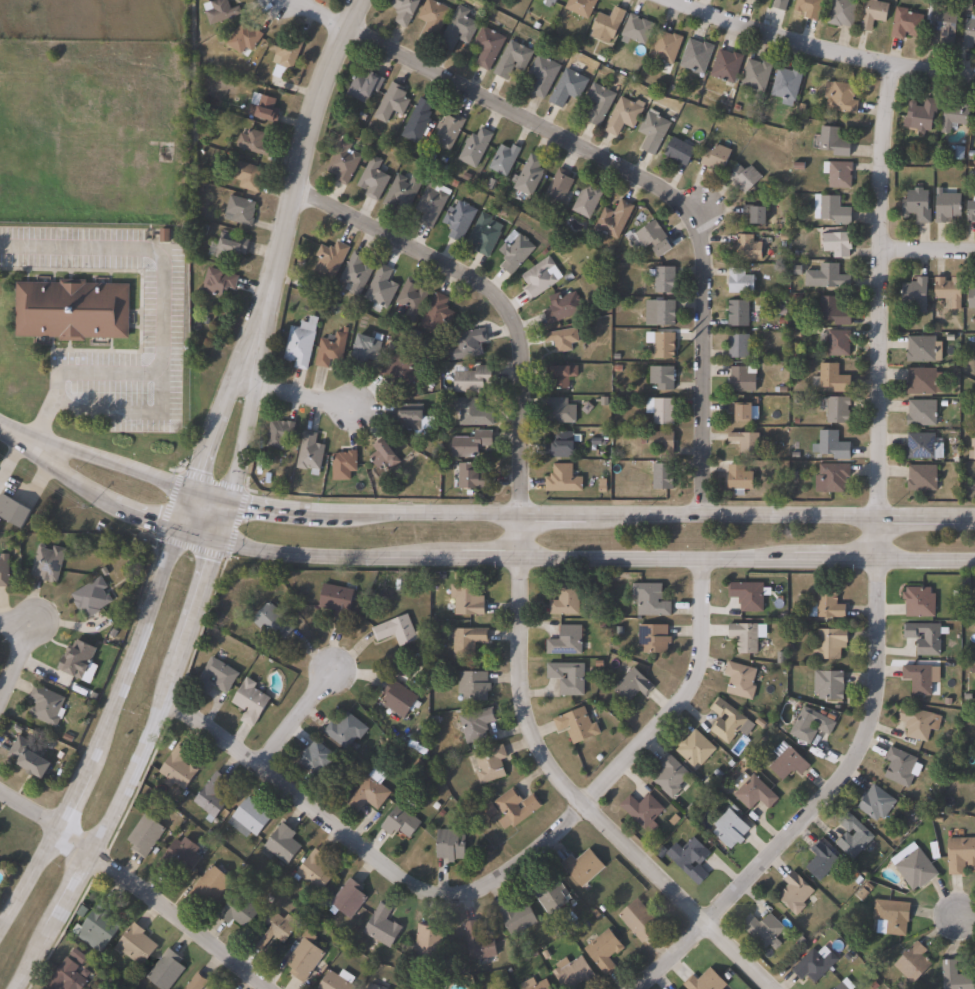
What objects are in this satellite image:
building: (750, 0)
building: (753, 0)
building: (553, 1)
building: (780, 4)
building: (580, 7)
building: (809, 8)
building: (219, 11)
building: (404, 11)
road: (326, 12)
building: (843, 13)
building: (873, 15)
building: (432, 19)
building: (905, 24)
building: (606, 25)
building: (944, 27)
building: (456, 30)
building: (636, 30)
building: (969, 34)
building: (243, 39)
building: (486, 47)
road: (827, 48)
building: (665, 49)
building: (696, 56)
building: (285, 57)
building: (512, 58)
building: (726, 66)
building: (541, 75)
building: (756, 78)
building: (786, 86)
building: (361, 88)
building: (567, 88)
building: (840, 98)
building: (391, 102)
building: (597, 102)
building: (261, 107)
building: (622, 115)
building: (921, 116)
building: (954, 116)
building: (418, 120)
building: (448, 130)
building: (652, 130)
building: (833, 141)
building: (252, 142)
building: (474, 147)
building: (678, 150)
building: (961, 153)
building: (716, 157)
building: (503, 159)
building: (342, 162)
building: (838, 173)
building: (529, 174)
building: (247, 175)
building: (745, 177)
building: (372, 178)
road: (298, 183)
road: (657, 186)
building: (558, 187)
building: (401, 191)
building: (586, 199)
building: (431, 202)
building: (916, 204)
building: (947, 208)
building: (832, 209)
building: (239, 210)
building: (971, 211)
building: (756, 212)
building: (613, 218)
building: (458, 219)
building: (483, 232)
building: (654, 238)
building: (837, 243)
building: (230, 246)
building: (747, 247)
road: (927, 249)
building: (514, 252)
building: (329, 259)
building: (355, 272)
building: (827, 276)
building: (539, 277)
building: (663, 278)
building: (217, 281)
building: (740, 281)
building: (380, 288)
road: (880, 288)
building: (949, 291)
road: (490, 293)
building: (915, 294)
building: (971, 297)
building: (410, 298)
building: (561, 306)
building: (71, 309)
building: (833, 310)
building: (659, 312)
building: (737, 313)
building: (436, 315)
road: (160, 327)
building: (561, 339)
building: (838, 342)
building: (466, 344)
building: (663, 345)
building: (738, 345)
building: (298, 346)
building: (921, 348)
building: (330, 349)
building: (364, 349)
building: (402, 369)
building: (561, 375)
building: (662, 377)
building: (472, 378)
building: (742, 378)
building: (832, 378)
building: (921, 381)
road: (299, 389)
building: (836, 409)
building: (560, 410)
building: (660, 410)
building: (744, 411)
building: (471, 412)
building: (922, 412)
building: (408, 416)
road: (211, 422)
road: (14, 429)
road: (241, 433)
building: (278, 434)
building: (661, 442)
building: (747, 443)
building: (469, 444)
building: (560, 445)
building: (831, 445)
building: (921, 445)
building: (974, 449)
building: (309, 453)
building: (383, 454)
building: (342, 465)
building: (662, 476)
building: (471, 477)
building: (831, 477)
building: (922, 478)
building: (562, 479)
building: (739, 479)
traffic signals: (192, 481)
traffic signals: (227, 495)
road: (496, 507)
building: (10, 509)
traffic signals: (175, 525)
road: (515, 529)
road: (878, 536)
traffic signals: (213, 537)
road: (487, 550)
building: (46, 563)
building: (4, 570)
building: (749, 595)
building: (92, 597)
building: (337, 600)
building: (468, 600)
building: (652, 600)
building: (567, 601)
building: (921, 602)
building: (828, 604)
road: (10, 620)
building: (274, 623)
building: (398, 631)
building: (748, 636)
building: (926, 638)
building: (655, 639)
building: (567, 641)
building: (469, 642)
building: (831, 644)
road: (11, 655)
building: (77, 659)
building: (216, 677)
building: (569, 678)
building: (922, 678)
building: (742, 680)
building: (634, 685)
building: (831, 685)
building: (475, 686)
building: (401, 699)
building: (251, 701)
building: (47, 706)
road: (112, 709)
road: (290, 713)
building: (730, 721)
building: (920, 723)
building: (478, 724)
building: (812, 725)
building: (578, 726)
building: (347, 730)
building: (697, 748)
road: (142, 750)
building: (29, 758)
building: (318, 759)
building: (789, 762)
building: (492, 764)
building: (902, 767)
building: (179, 768)
building: (673, 777)
building: (372, 791)
building: (754, 792)
building: (212, 796)
road: (581, 801)
road: (806, 803)
building: (878, 803)
building: (517, 808)
road: (29, 810)
building: (643, 810)
building: (250, 818)
building: (401, 822)
building: (732, 829)
building: (146, 836)
building: (856, 838)
road: (76, 841)
building: (282, 845)
building: (452, 845)
building: (961, 856)
building: (180, 858)
building: (694, 860)
building: (823, 861)
building: (584, 867)
building: (916, 867)
road: (496, 870)
building: (316, 872)
building: (211, 886)
building: (797, 893)
building: (551, 895)
building: (351, 899)
building: (239, 911)
road: (967, 914)
building: (893, 917)
building: (518, 919)
road: (184, 920)
building: (640, 921)
building: (100, 927)
building: (383, 927)
building: (764, 929)
building: (275, 930)
building: (479, 942)
building: (429, 944)
building: (136, 946)
building: (604, 950)
building: (306, 958)
building: (915, 962)
building: (815, 966)
building: (167, 971)
building: (575, 974)
building: (67, 977)
building: (956, 977)
building: (338, 981)
building: (198, 982)
building: (707, 982)
building: (536, 985)
building: (846, 985)
building: (836, 986)
building: (374, 987)
building: (100, 988)

